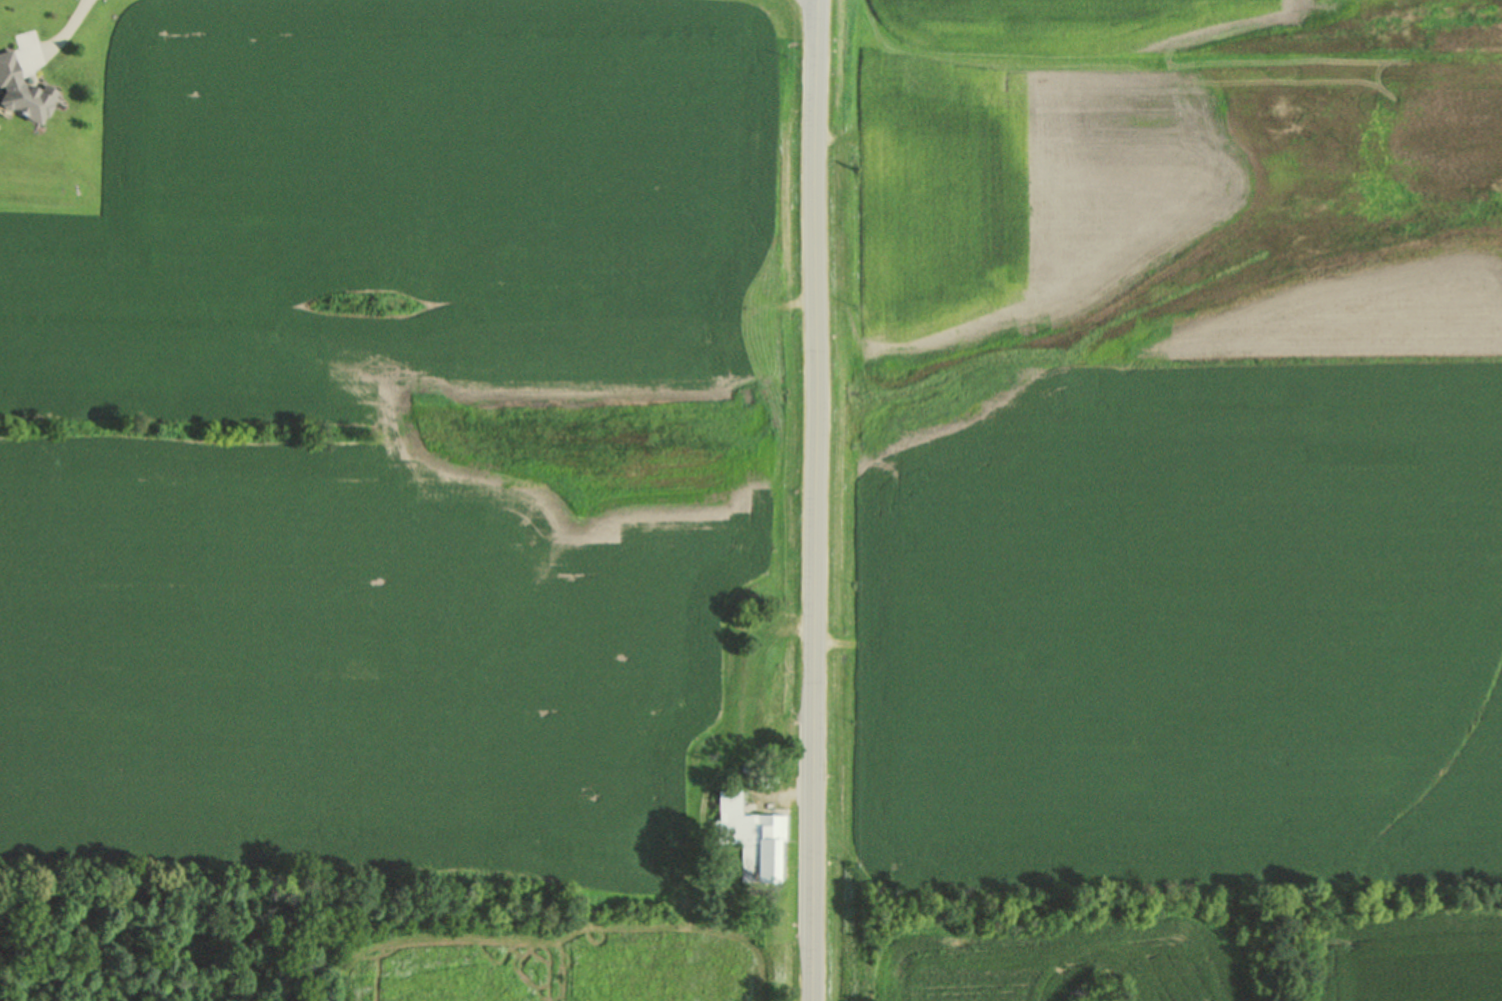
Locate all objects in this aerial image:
road: (61, 37)
building: (21, 93)
road: (769, 387)
road: (817, 500)
road: (735, 773)
building: (748, 838)

